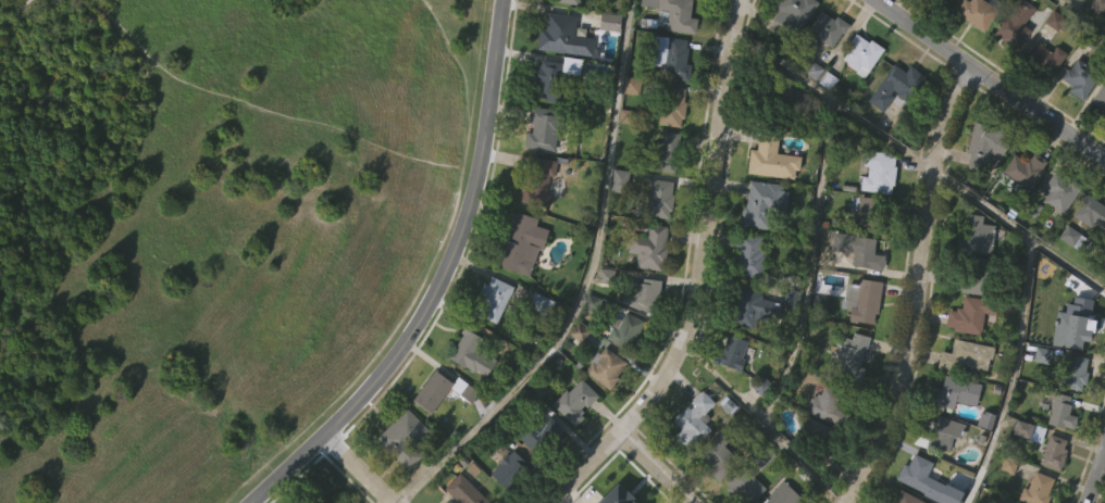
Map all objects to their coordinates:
building: (943, 0)
building: (568, 1)
building: (708, 1)
building: (892, 4)
road: (11, 10)
building: (605, 13)
building: (976, 13)
road: (1083, 13)
building: (1083, 14)
building: (669, 15)
building: (791, 16)
building: (934, 18)
building: (827, 26)
building: (1014, 26)
building: (561, 37)
building: (1096, 47)
building: (790, 51)
building: (861, 52)
building: (971, 53)
building: (671, 54)
building: (1044, 58)
building: (607, 64)
building: (1013, 66)
building: (824, 71)
building: (1081, 77)
building: (559, 78)
road: (990, 79)
building: (895, 85)
building: (773, 93)
road: (832, 95)
road: (246, 96)
building: (858, 98)
building: (1100, 99)
building: (1042, 100)
building: (670, 105)
building: (1077, 122)
building: (543, 126)
building: (629, 127)
building: (893, 128)
building: (1098, 141)
building: (984, 143)
building: (662, 153)
building: (771, 156)
building: (1023, 168)
building: (878, 171)
building: (536, 180)
building: (620, 180)
building: (983, 186)
building: (656, 199)
building: (759, 202)
building: (1022, 212)
building: (1090, 212)
building: (868, 214)
building: (617, 222)
park: (194, 223)
building: (976, 234)
building: (1056, 237)
building: (520, 242)
building: (647, 246)
building: (857, 249)
building: (1090, 254)
building: (747, 255)
road: (809, 260)
road: (1066, 262)
road: (697, 276)
building: (972, 277)
building: (1066, 277)
road: (384, 280)
road: (439, 282)
road: (582, 285)
building: (519, 286)
road: (918, 288)
building: (642, 293)
building: (489, 298)
building: (861, 299)
building: (539, 302)
building: (750, 306)
building: (969, 314)
road: (1021, 314)
building: (603, 318)
building: (1079, 324)
building: (624, 331)
building: (641, 337)
building: (491, 341)
building: (860, 343)
building: (470, 351)
building: (749, 351)
building: (731, 354)
building: (964, 354)
building: (848, 355)
building: (605, 366)
building: (630, 369)
building: (1072, 372)
building: (443, 390)
building: (954, 391)
building: (469, 395)
building: (729, 395)
building: (849, 399)
building: (575, 401)
building: (828, 404)
building: (603, 410)
building: (1058, 411)
building: (1071, 415)
building: (692, 418)
road: (763, 420)
building: (1028, 430)
building: (462, 431)
building: (431, 432)
building: (939, 432)
building: (539, 436)
building: (401, 438)
building: (815, 439)
building: (573, 443)
building: (1053, 452)
building: (717, 456)
building: (691, 462)
road: (656, 466)
road: (356, 469)
building: (1019, 471)
building: (538, 475)
building: (920, 475)
building: (942, 475)
road: (1094, 475)
building: (401, 478)
building: (742, 485)
building: (1036, 489)
building: (1051, 490)
building: (462, 491)
building: (718, 491)
building: (610, 494)
building: (782, 494)
building: (905, 498)
building: (509, 499)
building: (321, 501)
building: (1004, 501)
building: (312, 502)

